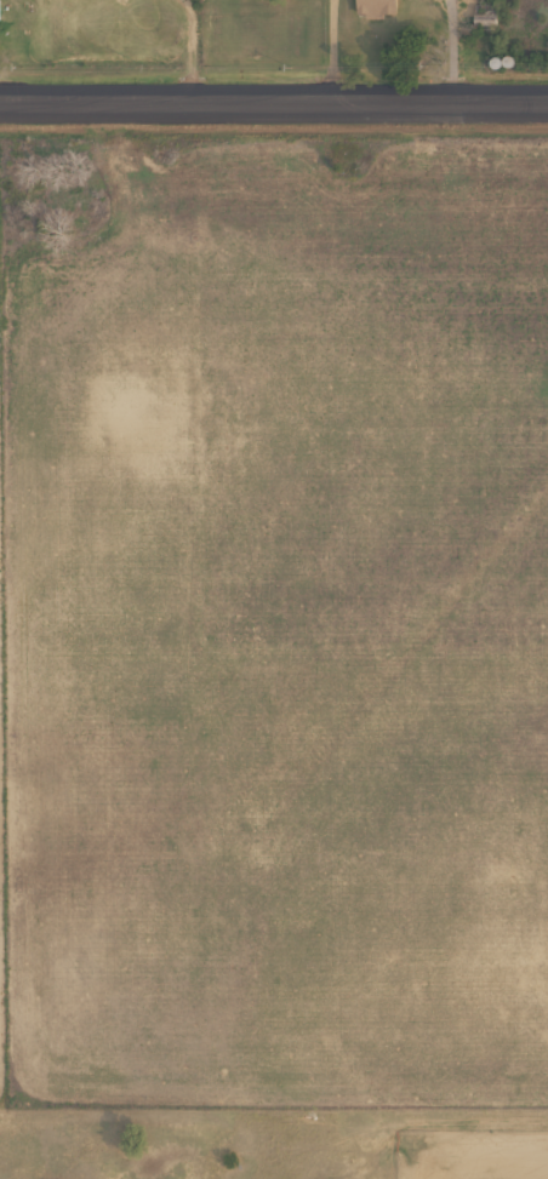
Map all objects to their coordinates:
building: (373, 8)
building: (481, 11)
building: (496, 63)
road: (274, 110)

